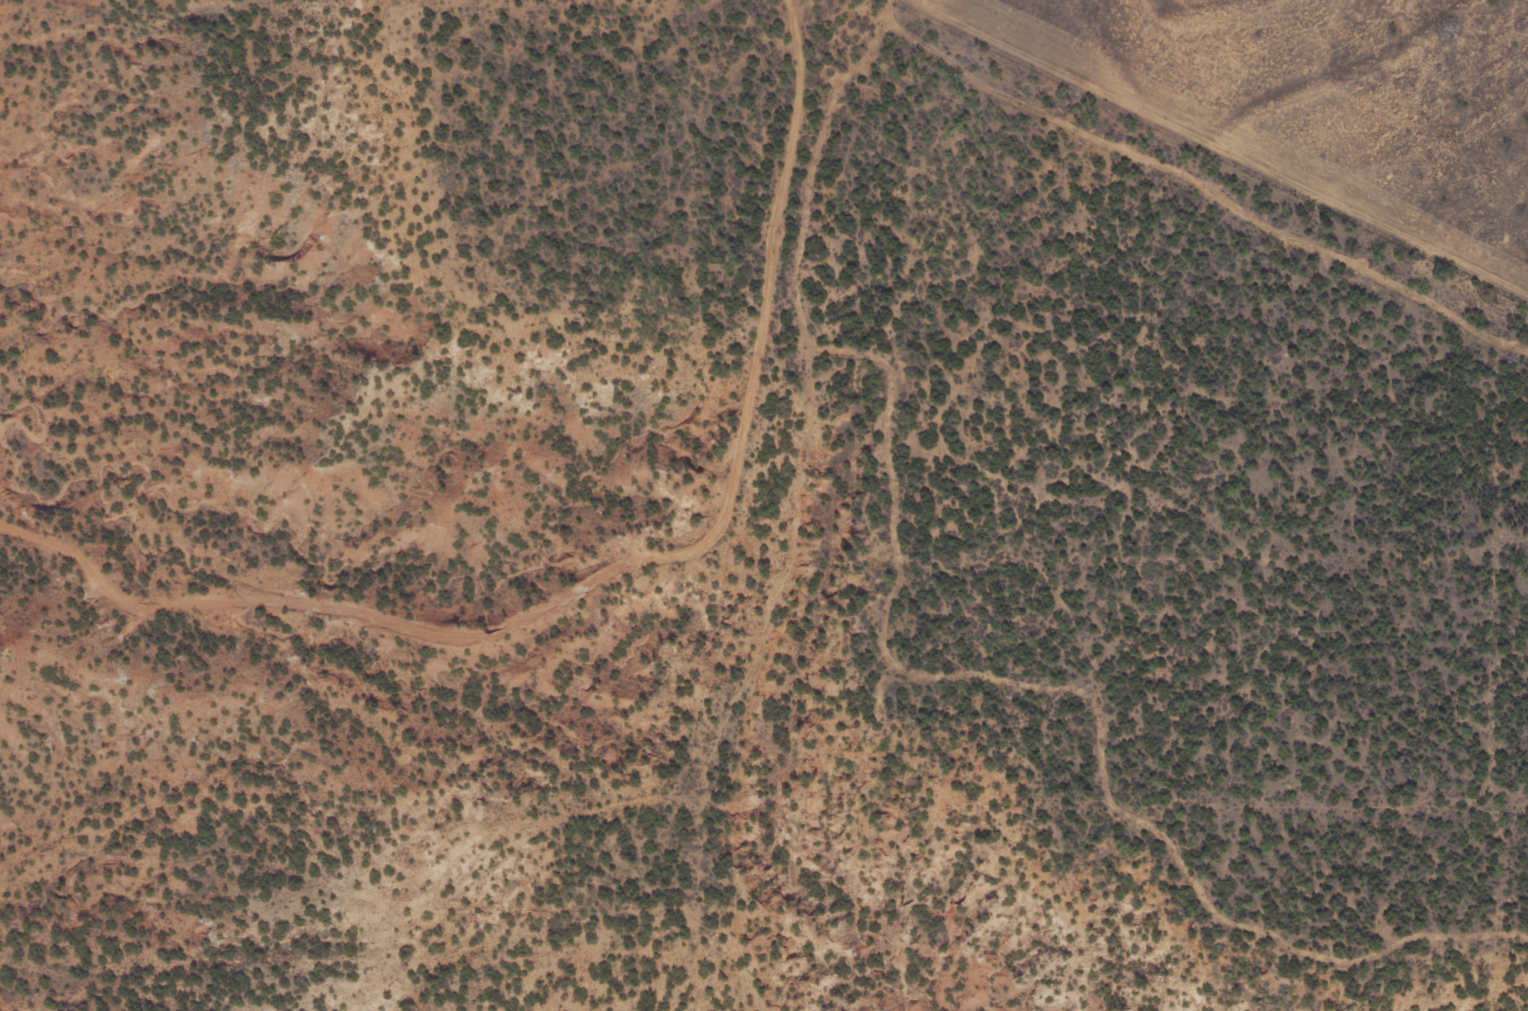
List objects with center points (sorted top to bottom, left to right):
road: (543, 521)

